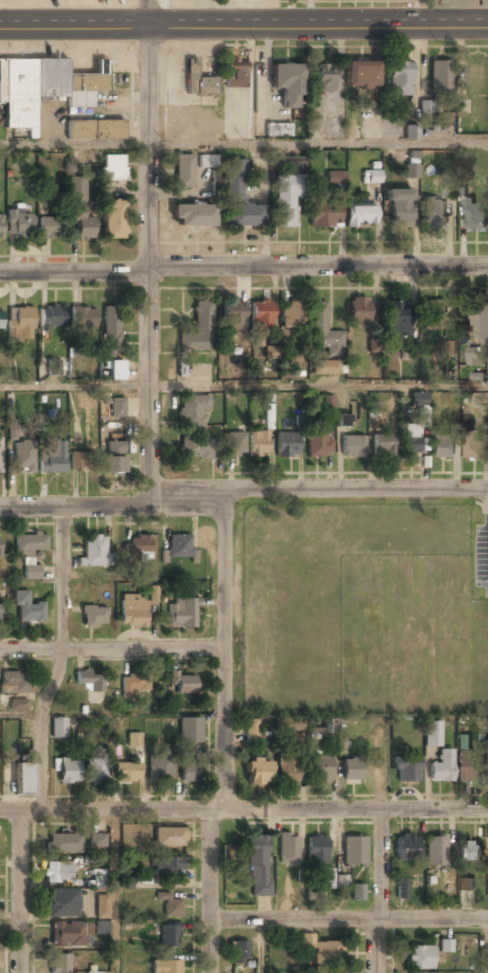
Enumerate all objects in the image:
road: (243, 27)
building: (235, 75)
building: (361, 75)
building: (440, 77)
building: (325, 78)
building: (400, 79)
building: (196, 81)
building: (287, 83)
building: (43, 88)
building: (428, 106)
building: (278, 129)
building: (94, 131)
building: (411, 131)
road: (243, 143)
building: (207, 161)
building: (289, 163)
building: (113, 168)
building: (411, 170)
building: (183, 171)
building: (371, 176)
building: (334, 178)
building: (216, 180)
building: (449, 187)
building: (286, 199)
building: (239, 205)
building: (400, 208)
building: (79, 211)
building: (433, 213)
building: (193, 216)
building: (361, 216)
building: (324, 217)
building: (476, 217)
building: (113, 220)
building: (18, 223)
building: (0, 226)
building: (51, 228)
road: (148, 252)
road: (243, 266)
building: (358, 311)
building: (291, 315)
building: (261, 316)
building: (434, 316)
building: (51, 317)
building: (1, 318)
building: (83, 318)
building: (234, 318)
building: (398, 320)
building: (480, 322)
building: (20, 323)
building: (199, 330)
building: (111, 331)
building: (323, 332)
building: (374, 346)
building: (449, 347)
building: (80, 353)
building: (326, 368)
building: (115, 371)
road: (243, 384)
building: (419, 400)
building: (327, 405)
building: (117, 408)
building: (192, 411)
building: (269, 414)
building: (343, 420)
building: (11, 430)
building: (409, 439)
building: (257, 443)
building: (320, 443)
building: (287, 444)
building: (474, 444)
building: (235, 445)
building: (442, 445)
building: (353, 446)
building: (384, 446)
building: (195, 448)
building: (23, 455)
building: (1, 456)
building: (52, 457)
building: (112, 458)
building: (80, 462)
road: (243, 491)
building: (30, 544)
building: (0, 545)
building: (137, 548)
building: (178, 548)
building: (94, 551)
parking lot: (481, 563)
building: (32, 572)
building: (153, 594)
building: (28, 607)
park: (362, 610)
building: (0, 612)
building: (133, 612)
building: (181, 614)
building: (94, 616)
road: (112, 650)
road: (224, 650)
road: (60, 660)
building: (90, 680)
building: (14, 682)
building: (183, 684)
building: (134, 685)
building: (18, 704)
road: (22, 715)
building: (289, 724)
building: (330, 726)
building: (58, 729)
building: (190, 731)
building: (252, 731)
building: (433, 734)
building: (133, 740)
building: (341, 742)
building: (470, 766)
building: (442, 767)
building: (319, 768)
building: (160, 769)
building: (189, 769)
building: (407, 769)
building: (353, 770)
building: (68, 771)
building: (96, 771)
building: (287, 771)
building: (127, 773)
building: (257, 773)
building: (22, 780)
road: (355, 809)
road: (105, 810)
road: (217, 810)
building: (169, 837)
building: (97, 841)
building: (63, 844)
building: (289, 847)
building: (407, 848)
building: (317, 849)
building: (435, 851)
building: (470, 851)
building: (354, 852)
road: (381, 864)
building: (258, 865)
building: (168, 867)
building: (58, 872)
building: (449, 877)
building: (99, 878)
building: (329, 879)
building: (342, 882)
building: (126, 883)
building: (466, 884)
building: (401, 889)
road: (20, 891)
road: (117, 891)
road: (210, 891)
building: (315, 893)
building: (357, 893)
building: (60, 903)
building: (102, 906)
building: (170, 907)
road: (434, 919)
road: (293, 920)
road: (379, 920)
building: (100, 928)
building: (67, 935)
building: (169, 936)
building: (445, 945)
road: (376, 946)
road: (486, 946)
road: (262, 947)
building: (319, 950)
building: (239, 951)
building: (419, 958)
building: (59, 963)
building: (166, 966)
building: (424, 972)

